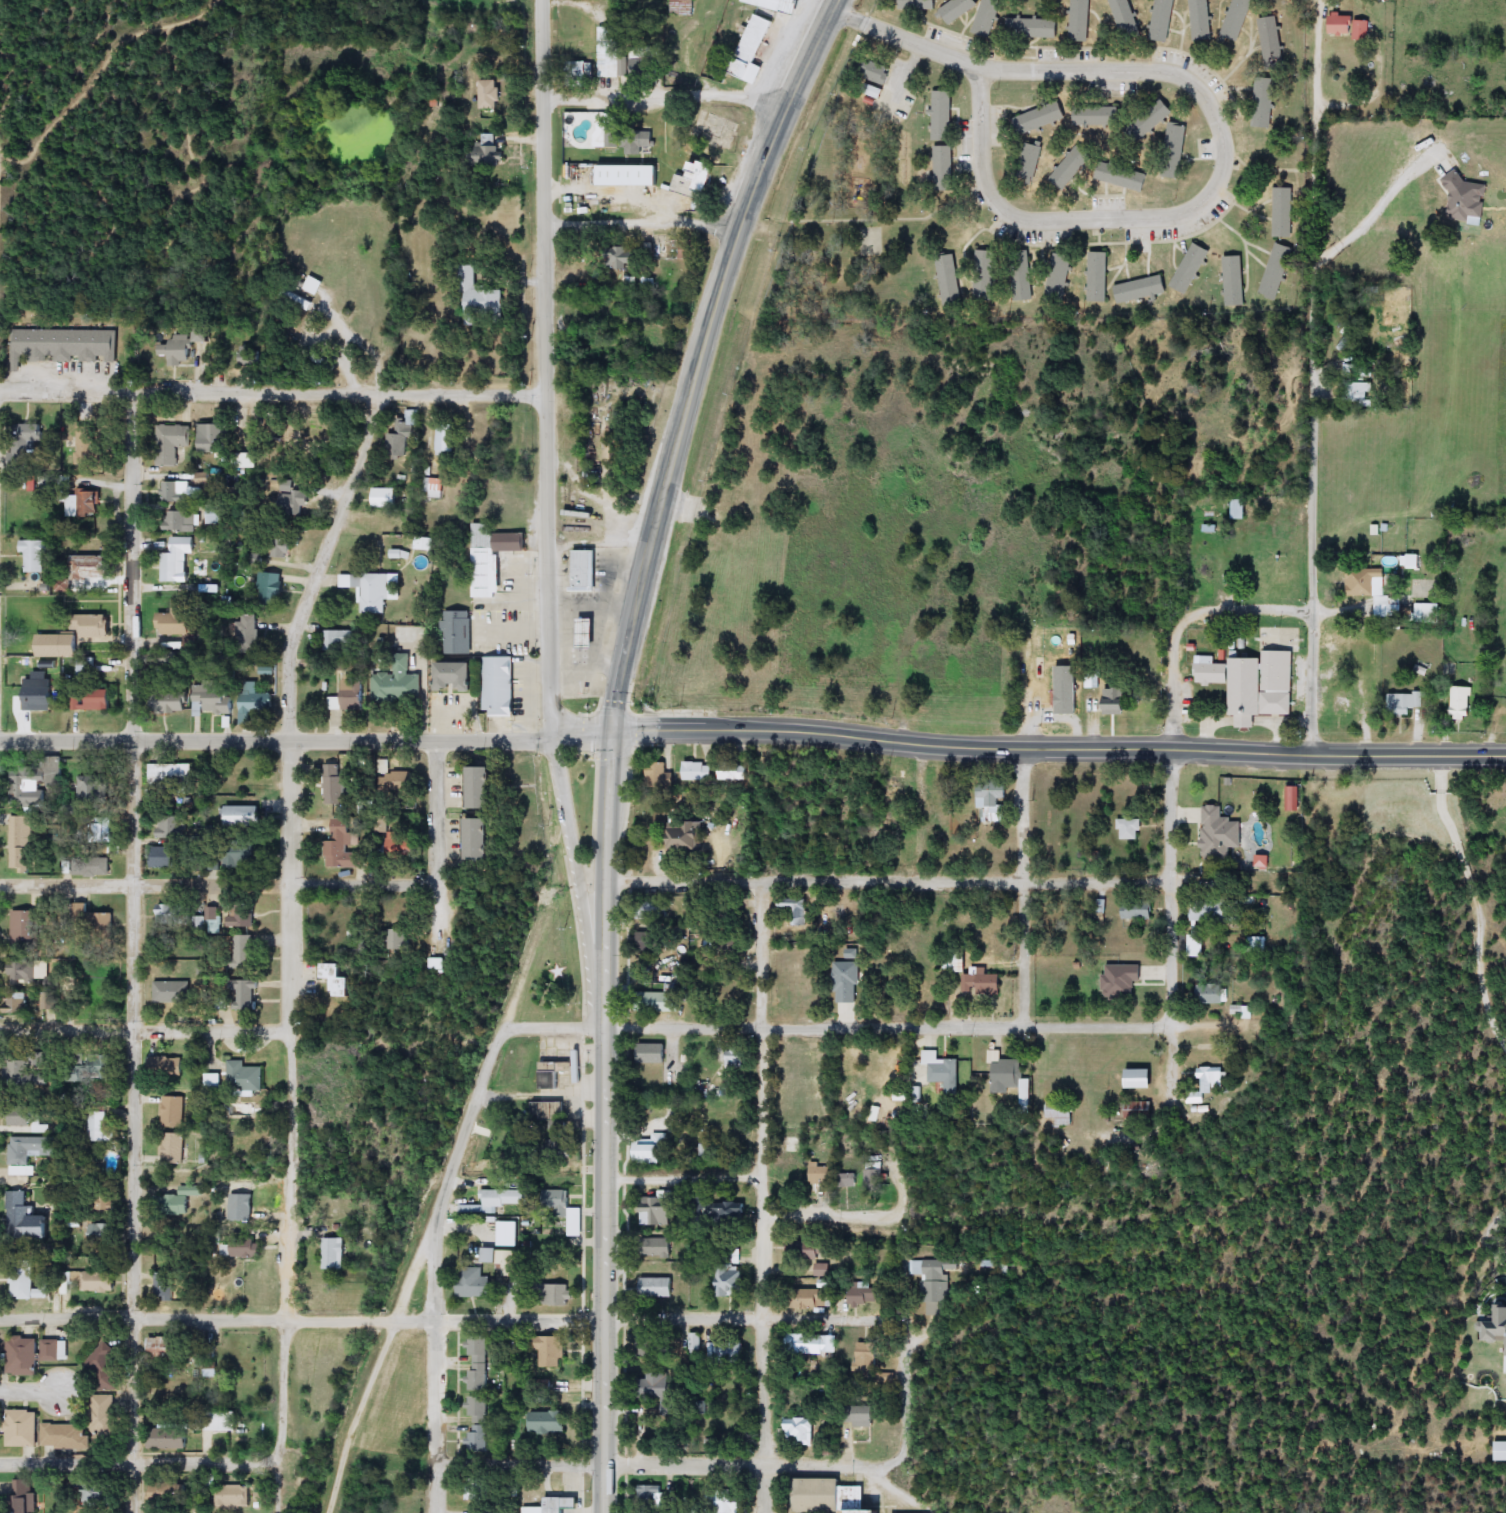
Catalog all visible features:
building: (769, 4)
building: (917, 5)
building: (681, 8)
road: (478, 9)
building: (957, 10)
building: (987, 18)
building: (1126, 18)
building: (1236, 19)
building: (1162, 20)
building: (1201, 20)
building: (1079, 21)
building: (1350, 25)
building: (1031, 28)
road: (907, 35)
building: (1271, 42)
building: (753, 50)
building: (609, 52)
building: (643, 66)
road: (669, 93)
building: (489, 95)
building: (1263, 104)
building: (1095, 116)
building: (942, 117)
building: (1038, 119)
building: (1149, 119)
building: (611, 136)
building: (637, 138)
building: (1175, 147)
building: (490, 155)
building: (1070, 167)
building: (943, 169)
road: (3, 172)
building: (1122, 174)
road: (22, 177)
building: (695, 185)
road: (1164, 211)
building: (1282, 213)
road: (639, 222)
building: (622, 257)
building: (1190, 269)
building: (1276, 271)
building: (982, 276)
building: (1059, 277)
building: (1099, 278)
building: (948, 280)
building: (1234, 281)
building: (1022, 284)
building: (313, 285)
building: (1141, 290)
building: (478, 298)
road: (431, 313)
building: (201, 335)
building: (63, 345)
building: (178, 350)
road: (700, 358)
road: (541, 368)
road: (381, 376)
road: (1313, 378)
road: (270, 391)
railway: (725, 391)
building: (29, 435)
building: (400, 435)
building: (447, 442)
building: (170, 443)
building: (84, 445)
building: (214, 445)
building: (434, 485)
building: (181, 492)
building: (383, 498)
building: (293, 499)
building: (83, 503)
building: (181, 522)
building: (282, 544)
building: (427, 544)
building: (34, 556)
building: (491, 558)
building: (176, 559)
building: (90, 568)
building: (584, 571)
building: (1211, 571)
building: (269, 589)
building: (369, 591)
building: (1372, 591)
road: (1251, 603)
building: (1428, 613)
building: (177, 621)
building: (247, 632)
building: (456, 633)
building: (589, 635)
building: (72, 637)
building: (338, 640)
building: (1070, 662)
building: (1211, 674)
building: (456, 678)
building: (1494, 681)
building: (398, 683)
building: (1262, 686)
building: (498, 687)
building: (38, 693)
building: (351, 695)
building: (92, 700)
building: (213, 701)
building: (254, 701)
building: (170, 704)
building: (1108, 704)
building: (1404, 704)
building: (1462, 704)
traffic signals: (614, 734)
road: (307, 740)
road: (1059, 749)
building: (697, 771)
building: (732, 771)
building: (169, 776)
building: (660, 778)
building: (335, 784)
building: (397, 784)
building: (90, 788)
building: (26, 789)
building: (485, 789)
building: (991, 803)
road: (917, 813)
building: (243, 816)
building: (168, 825)
building: (1129, 829)
building: (100, 830)
building: (1219, 833)
building: (685, 836)
building: (482, 841)
building: (31, 843)
building: (401, 844)
building: (342, 846)
road: (437, 846)
building: (240, 855)
building: (164, 857)
building: (92, 866)
road: (1174, 866)
road: (577, 882)
road: (889, 882)
road: (218, 886)
road: (1021, 887)
building: (1139, 909)
building: (656, 910)
building: (793, 911)
building: (1209, 912)
building: (242, 913)
building: (214, 914)
building: (171, 915)
building: (96, 922)
building: (196, 922)
building: (25, 927)
road: (289, 933)
building: (395, 938)
building: (652, 941)
building: (1259, 944)
building: (723, 945)
building: (1194, 945)
road: (131, 948)
building: (243, 951)
building: (440, 963)
building: (28, 972)
building: (340, 979)
building: (846, 982)
building: (983, 984)
building: (242, 990)
building: (171, 991)
building: (1214, 994)
building: (17, 1003)
building: (221, 1003)
building: (53, 1005)
building: (660, 1006)
road: (912, 1026)
road: (143, 1031)
building: (654, 1054)
building: (733, 1059)
building: (166, 1066)
building: (101, 1067)
building: (943, 1070)
building: (15, 1071)
building: (73, 1072)
building: (1005, 1073)
building: (245, 1076)
building: (1142, 1079)
building: (556, 1080)
building: (214, 1082)
building: (1211, 1083)
building: (1142, 1109)
building: (549, 1111)
building: (170, 1112)
building: (1061, 1113)
building: (31, 1117)
road: (604, 1123)
building: (97, 1125)
railway: (459, 1147)
building: (171, 1148)
building: (561, 1148)
building: (650, 1150)
building: (30, 1152)
building: (794, 1170)
building: (820, 1174)
road: (683, 1178)
building: (873, 1179)
building: (848, 1180)
road: (761, 1197)
building: (180, 1200)
building: (499, 1200)
building: (103, 1202)
building: (241, 1207)
building: (561, 1207)
building: (734, 1209)
building: (656, 1212)
road: (858, 1218)
building: (28, 1219)
road: (428, 1223)
building: (99, 1233)
building: (508, 1234)
building: (660, 1248)
building: (241, 1249)
building: (807, 1249)
building: (730, 1252)
building: (335, 1253)
building: (505, 1260)
building: (822, 1269)
building: (97, 1280)
building: (730, 1282)
building: (933, 1283)
building: (474, 1284)
building: (28, 1286)
building: (165, 1286)
building: (657, 1287)
building: (862, 1293)
building: (555, 1295)
building: (810, 1298)
road: (750, 1318)
road: (301, 1319)
building: (1492, 1328)
building: (806, 1343)
building: (650, 1345)
building: (693, 1345)
building: (165, 1348)
building: (550, 1351)
building: (727, 1353)
building: (31, 1354)
building: (864, 1357)
building: (478, 1363)
road: (433, 1364)
building: (104, 1367)
building: (210, 1370)
building: (656, 1386)
road: (29, 1392)
road: (904, 1395)
building: (476, 1409)
building: (864, 1417)
building: (216, 1422)
building: (547, 1422)
building: (82, 1427)
building: (21, 1428)
building: (801, 1431)
building: (169, 1438)
building: (476, 1439)
road: (141, 1463)
road: (518, 1465)
road: (745, 1465)
building: (170, 1492)
building: (96, 1493)
building: (24, 1496)
building: (233, 1496)
building: (819, 1496)
building: (649, 1498)
building: (726, 1503)
building: (554, 1506)
building: (868, 1511)

